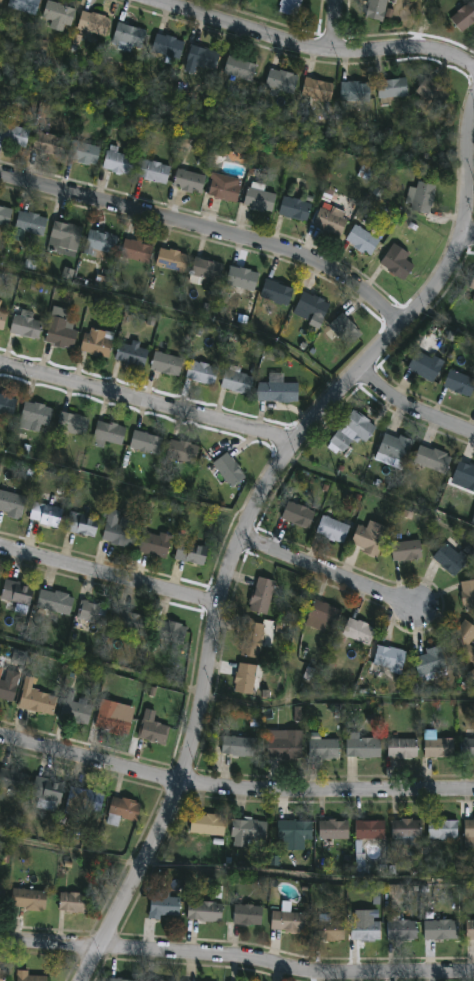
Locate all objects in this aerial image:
building: (2, 2)
building: (26, 5)
building: (291, 7)
building: (380, 10)
building: (59, 15)
building: (465, 16)
building: (95, 23)
road: (336, 25)
building: (131, 36)
road: (313, 44)
building: (170, 48)
building: (205, 57)
building: (243, 68)
building: (284, 80)
building: (394, 87)
building: (320, 89)
building: (356, 92)
building: (434, 92)
building: (15, 134)
building: (50, 145)
building: (86, 153)
building: (120, 163)
building: (156, 171)
building: (191, 181)
building: (227, 187)
building: (423, 197)
building: (261, 198)
building: (297, 208)
building: (6, 216)
building: (333, 219)
building: (31, 224)
road: (211, 229)
road: (468, 234)
building: (66, 239)
building: (363, 239)
building: (101, 243)
building: (138, 251)
building: (174, 260)
building: (399, 262)
building: (30, 265)
building: (208, 270)
building: (67, 273)
building: (242, 279)
building: (101, 282)
building: (473, 286)
building: (279, 293)
building: (473, 300)
building: (0, 303)
building: (313, 309)
building: (3, 320)
building: (28, 325)
building: (346, 329)
building: (62, 332)
building: (97, 342)
building: (271, 354)
building: (131, 355)
building: (167, 364)
building: (427, 367)
building: (204, 372)
building: (238, 381)
building: (461, 384)
building: (284, 392)
road: (148, 400)
road: (422, 400)
building: (8, 405)
building: (36, 416)
building: (74, 423)
building: (353, 431)
building: (109, 434)
building: (147, 443)
building: (184, 451)
building: (395, 451)
building: (434, 460)
building: (231, 470)
building: (466, 473)
building: (13, 504)
building: (48, 512)
building: (300, 514)
road: (250, 519)
building: (472, 521)
building: (83, 524)
building: (121, 529)
building: (336, 529)
building: (371, 541)
building: (156, 545)
building: (409, 551)
building: (193, 554)
building: (454, 555)
road: (328, 572)
road: (110, 578)
building: (19, 591)
building: (468, 593)
building: (263, 594)
building: (57, 601)
building: (92, 613)
building: (325, 616)
building: (132, 624)
building: (361, 630)
building: (171, 631)
building: (254, 638)
building: (465, 639)
building: (392, 657)
building: (433, 663)
building: (0, 670)
building: (471, 676)
building: (246, 678)
building: (8, 689)
building: (39, 700)
building: (79, 709)
building: (298, 714)
building: (114, 717)
building: (155, 731)
building: (287, 743)
building: (242, 745)
building: (364, 746)
building: (404, 747)
building: (441, 747)
building: (468, 747)
building: (326, 748)
building: (14, 779)
building: (49, 792)
road: (231, 798)
building: (85, 801)
building: (124, 810)
building: (209, 824)
building: (445, 828)
building: (336, 829)
building: (373, 829)
building: (297, 830)
building: (250, 831)
building: (409, 831)
building: (470, 833)
road: (76, 851)
building: (3, 892)
building: (31, 899)
building: (75, 902)
building: (166, 906)
building: (207, 911)
building: (249, 914)
building: (289, 919)
building: (403, 928)
building: (331, 929)
building: (443, 929)
building: (471, 929)
building: (367, 931)
road: (237, 959)
building: (3, 975)
building: (31, 976)
building: (123, 979)
building: (161, 980)

